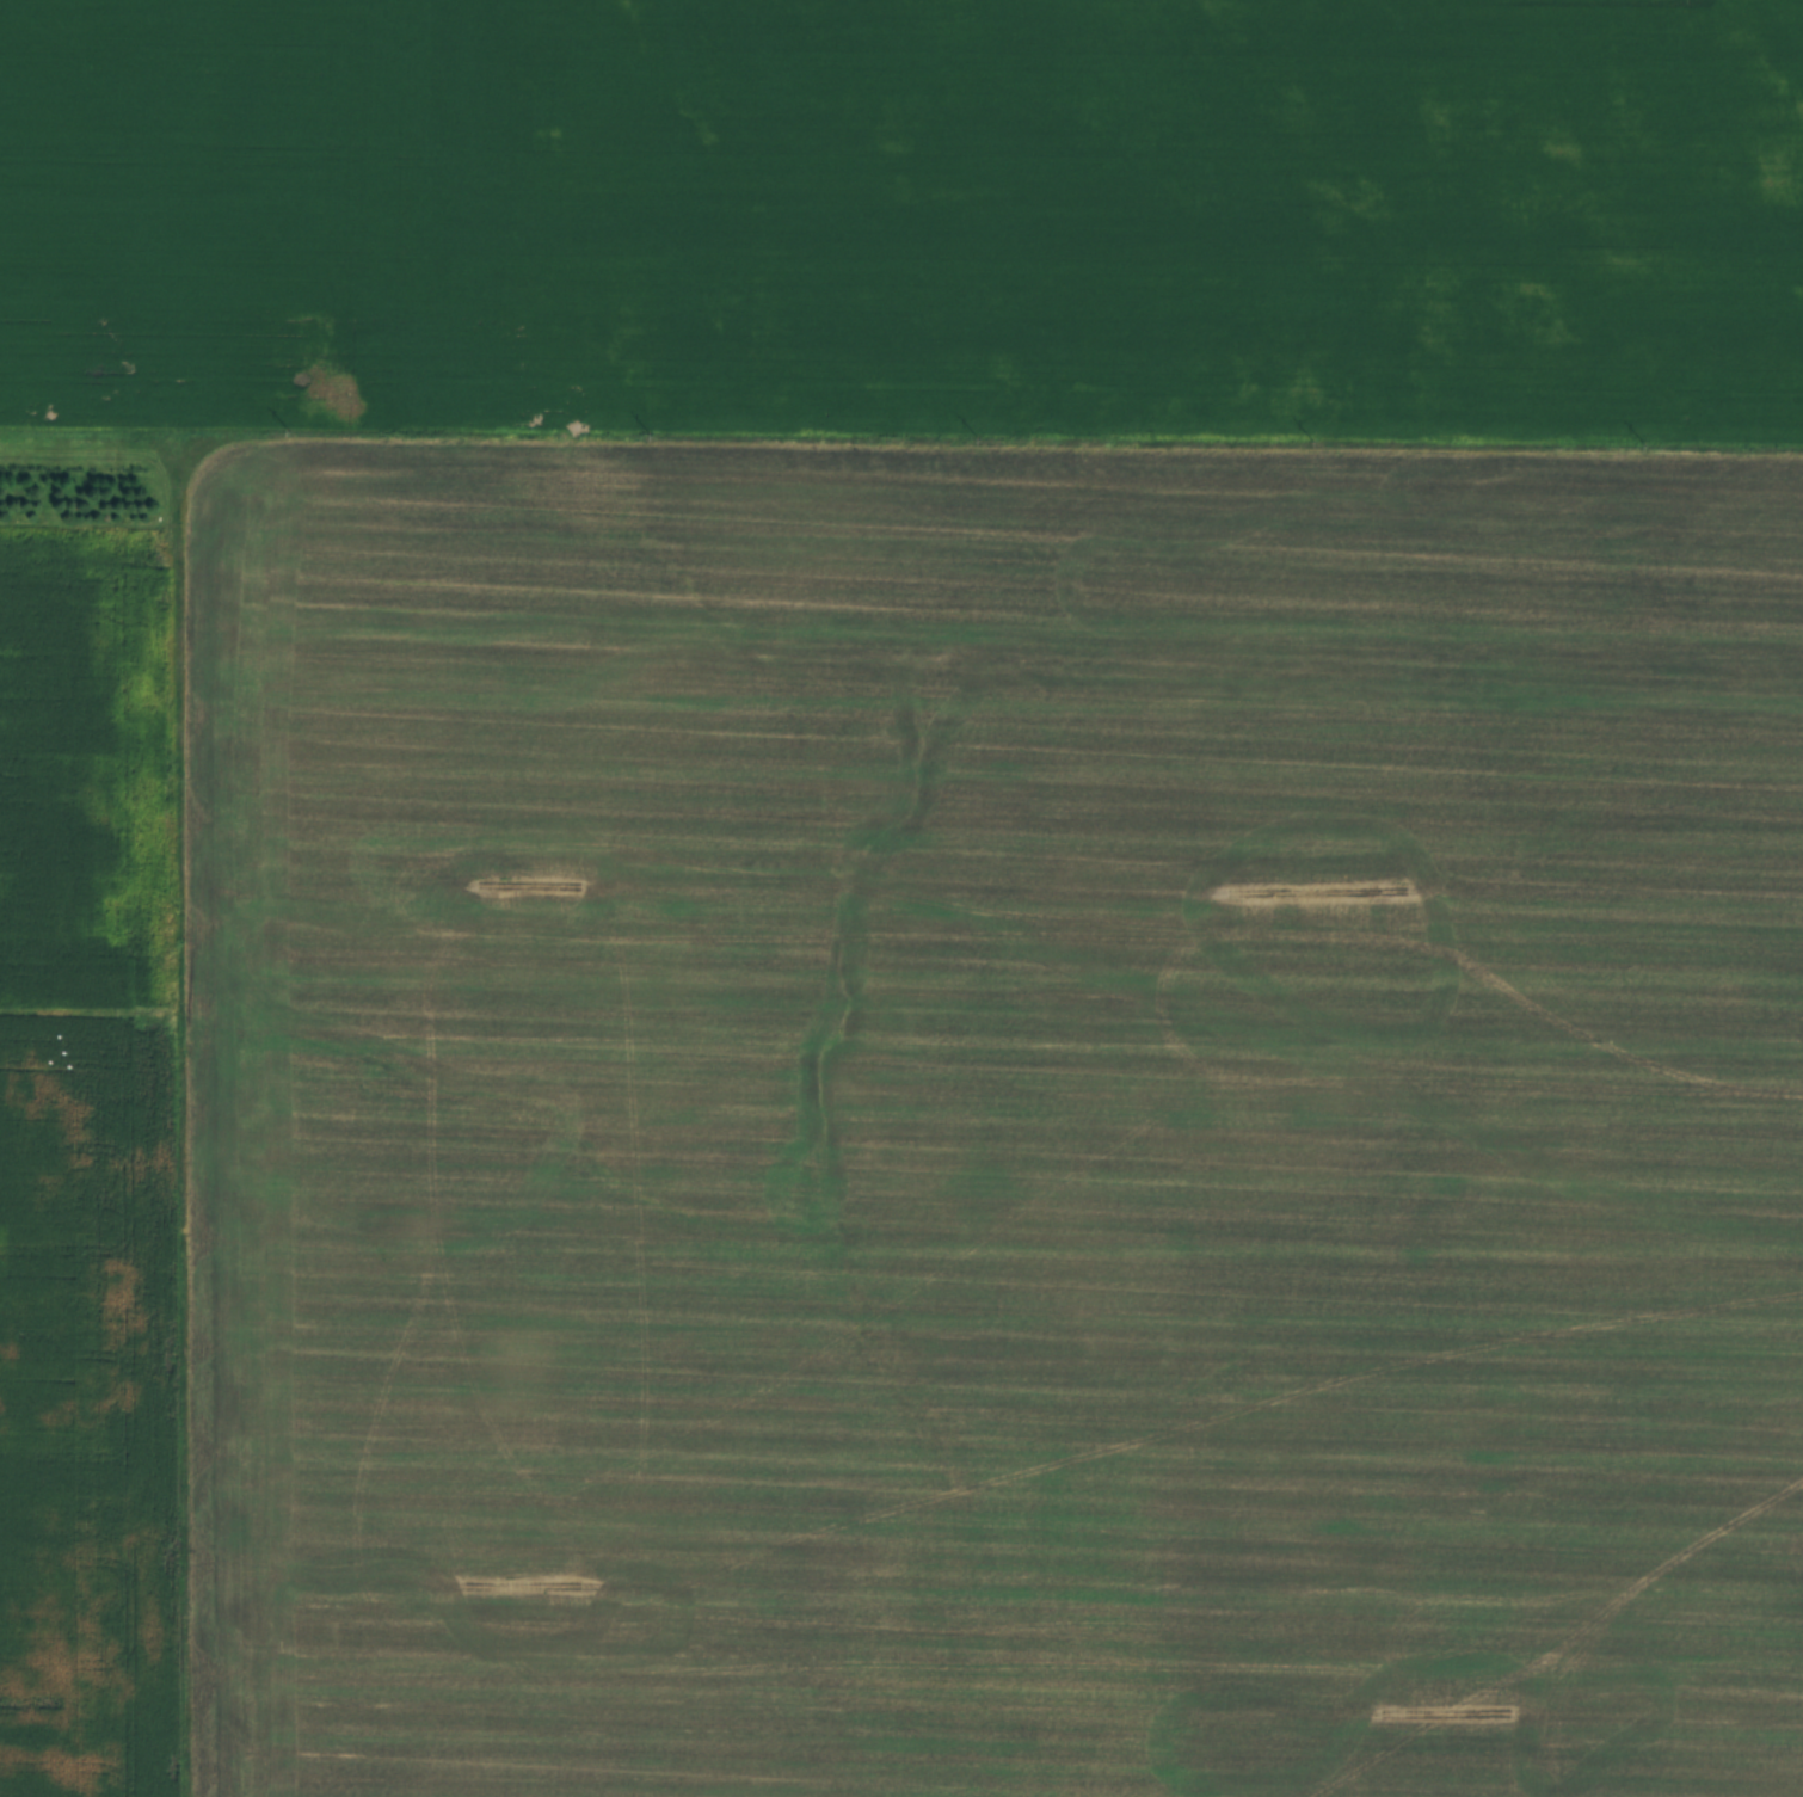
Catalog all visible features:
crop: (906, 210)

